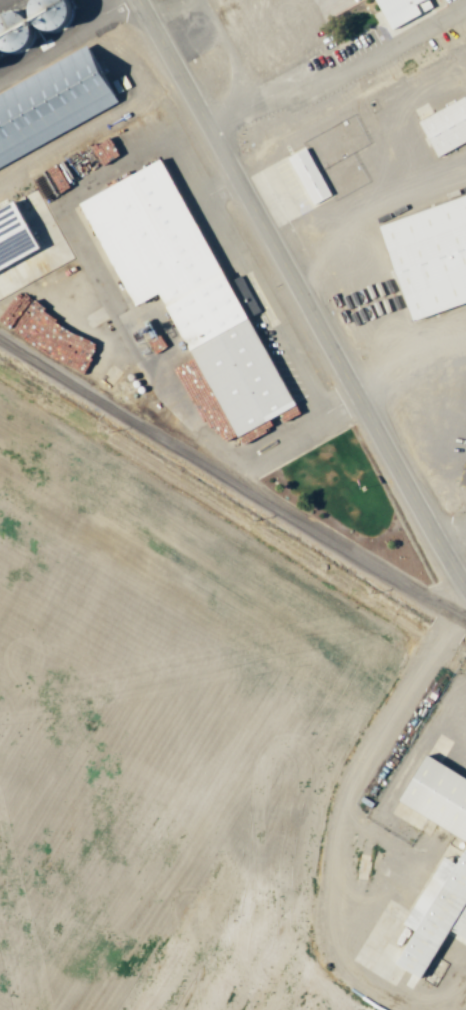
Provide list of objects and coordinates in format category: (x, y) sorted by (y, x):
road: (95, 10)
building: (403, 10)
building: (35, 26)
road: (215, 27)
road: (67, 39)
road: (338, 73)
building: (90, 76)
building: (447, 127)
building: (12, 145)
building: (311, 177)
building: (16, 237)
building: (432, 255)
building: (189, 289)
road: (300, 297)
road: (233, 465)
building: (439, 796)
road: (343, 806)
building: (437, 918)

